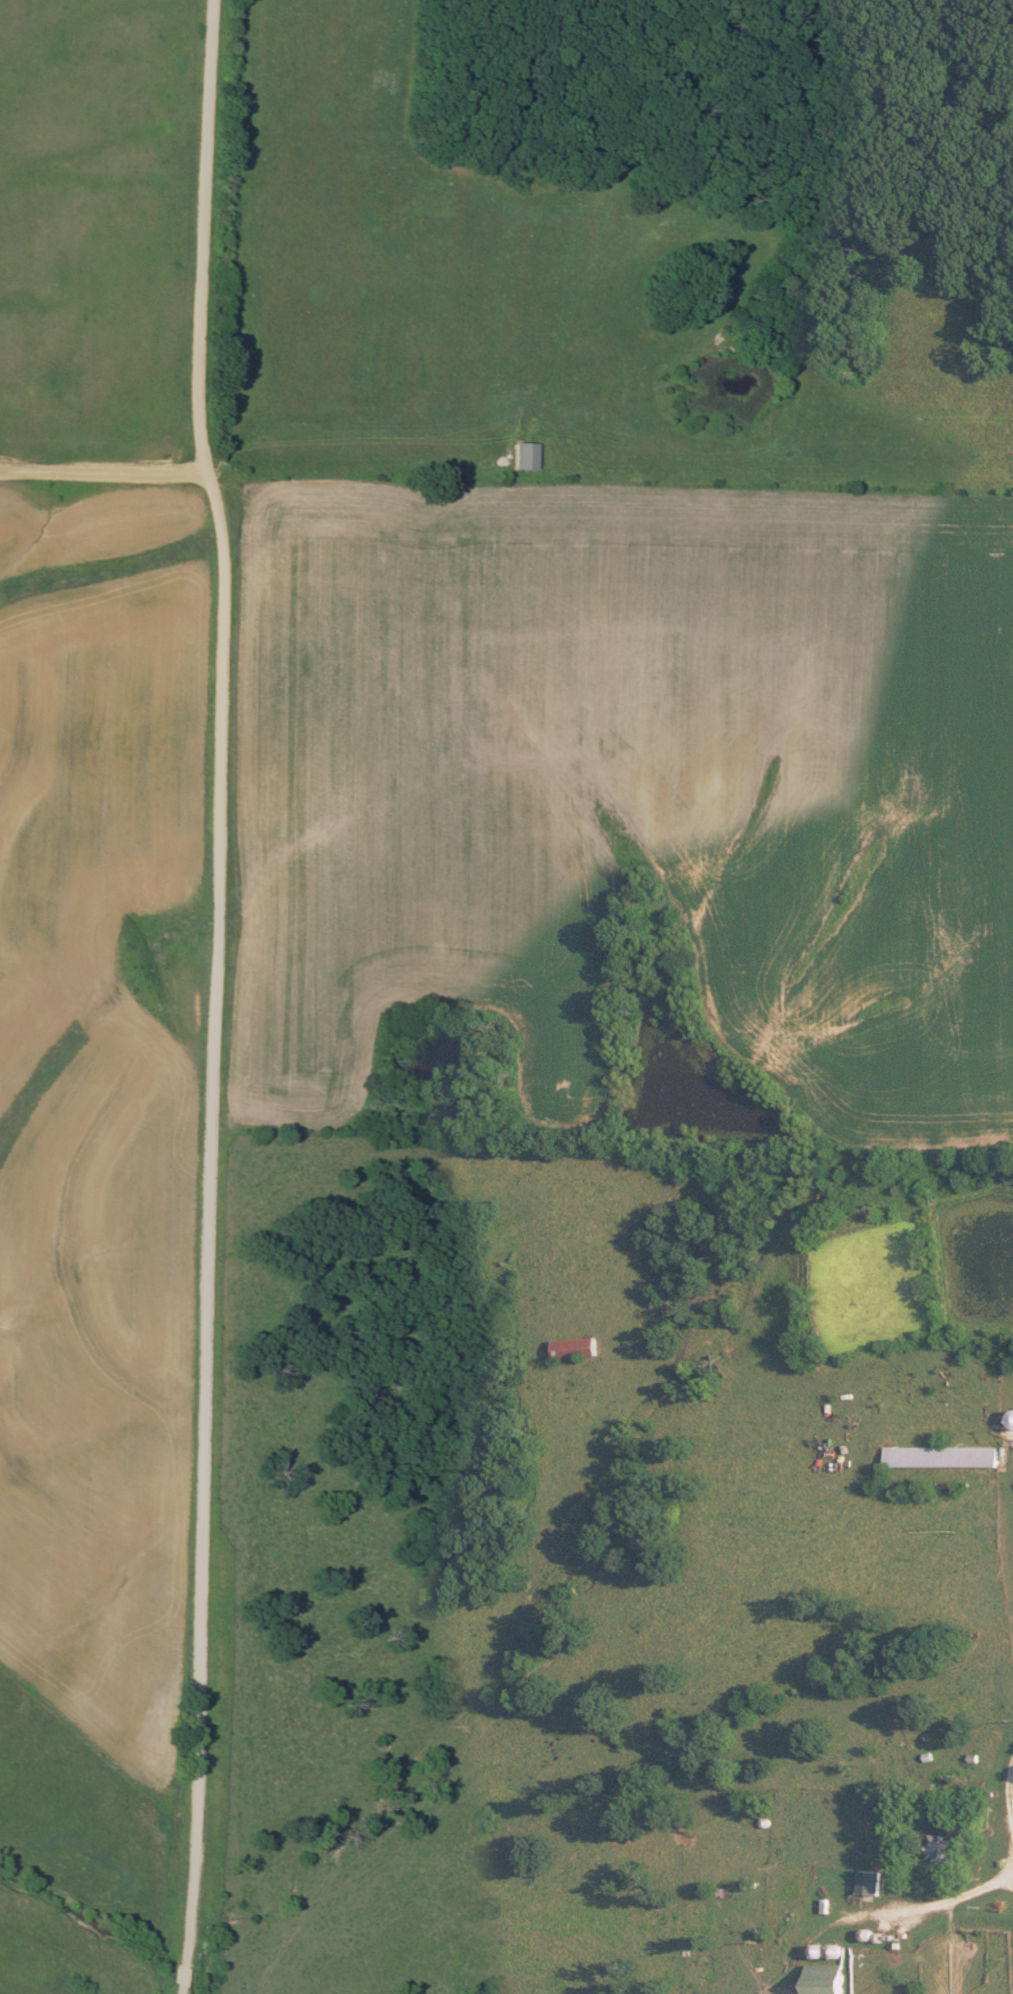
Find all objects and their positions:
road: (202, 235)
building: (525, 455)
road: (103, 477)
road: (208, 1232)
building: (576, 1348)
building: (1012, 1420)
building: (941, 1457)
building: (946, 1847)
building: (868, 1883)
road: (937, 1917)
building: (825, 1979)

